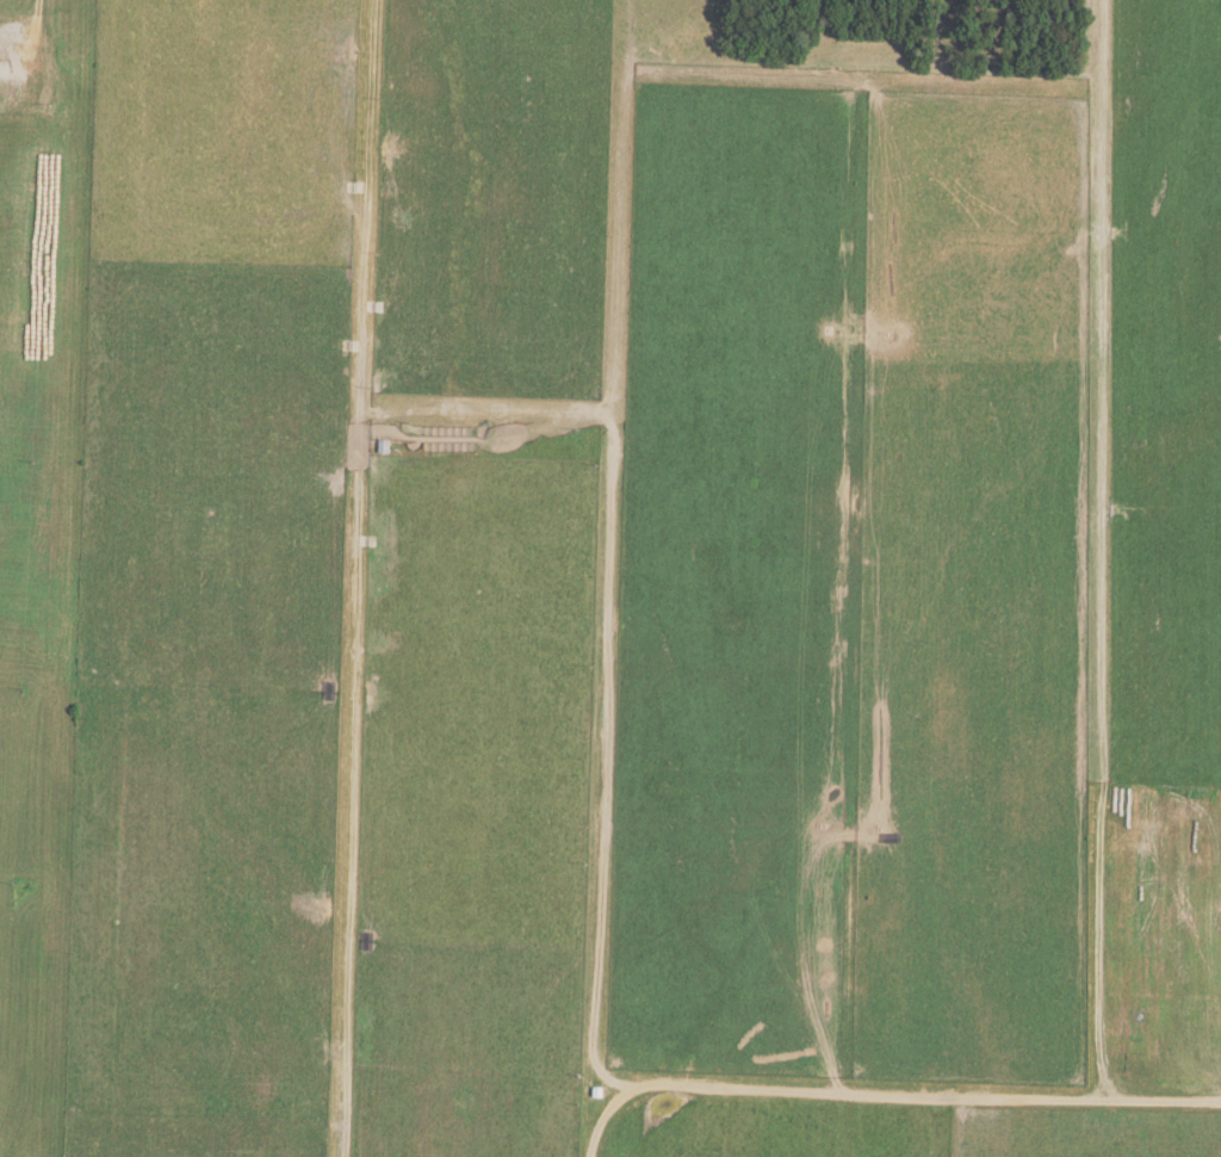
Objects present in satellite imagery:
road: (932, 1095)

